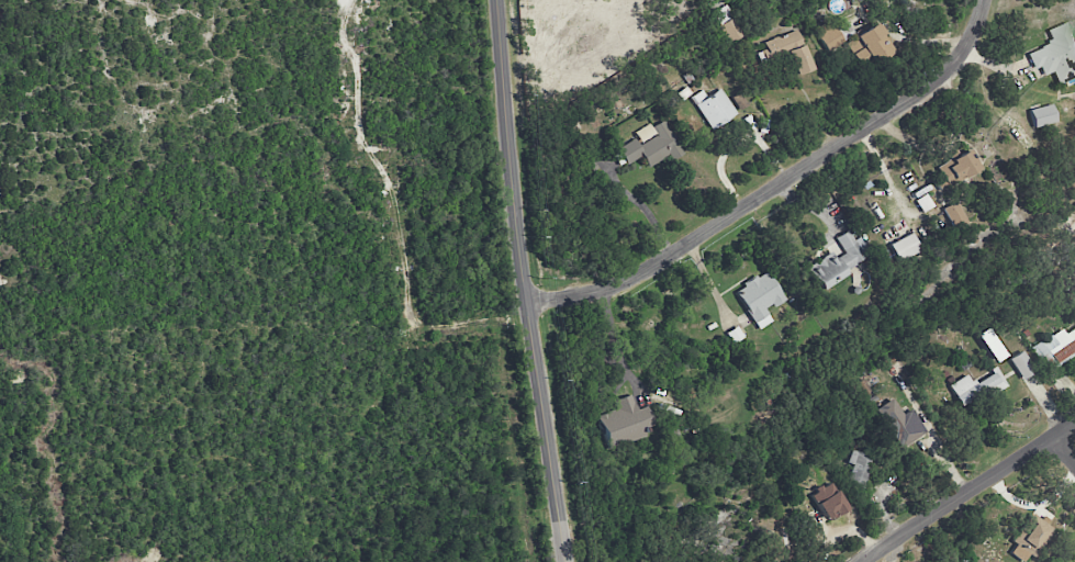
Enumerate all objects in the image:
building: (727, 23)
building: (828, 35)
building: (872, 46)
building: (786, 50)
building: (1056, 54)
building: (714, 106)
building: (1042, 115)
building: (652, 146)
building: (956, 167)
road: (777, 183)
building: (954, 214)
building: (905, 246)
building: (840, 258)
road: (523, 281)
road: (714, 289)
building: (759, 297)
building: (985, 338)
road: (616, 341)
building: (1055, 347)
building: (1021, 364)
building: (976, 386)
building: (624, 421)
building: (900, 423)
road: (1063, 449)
building: (859, 468)
road: (967, 490)
building: (827, 501)
building: (1030, 537)

